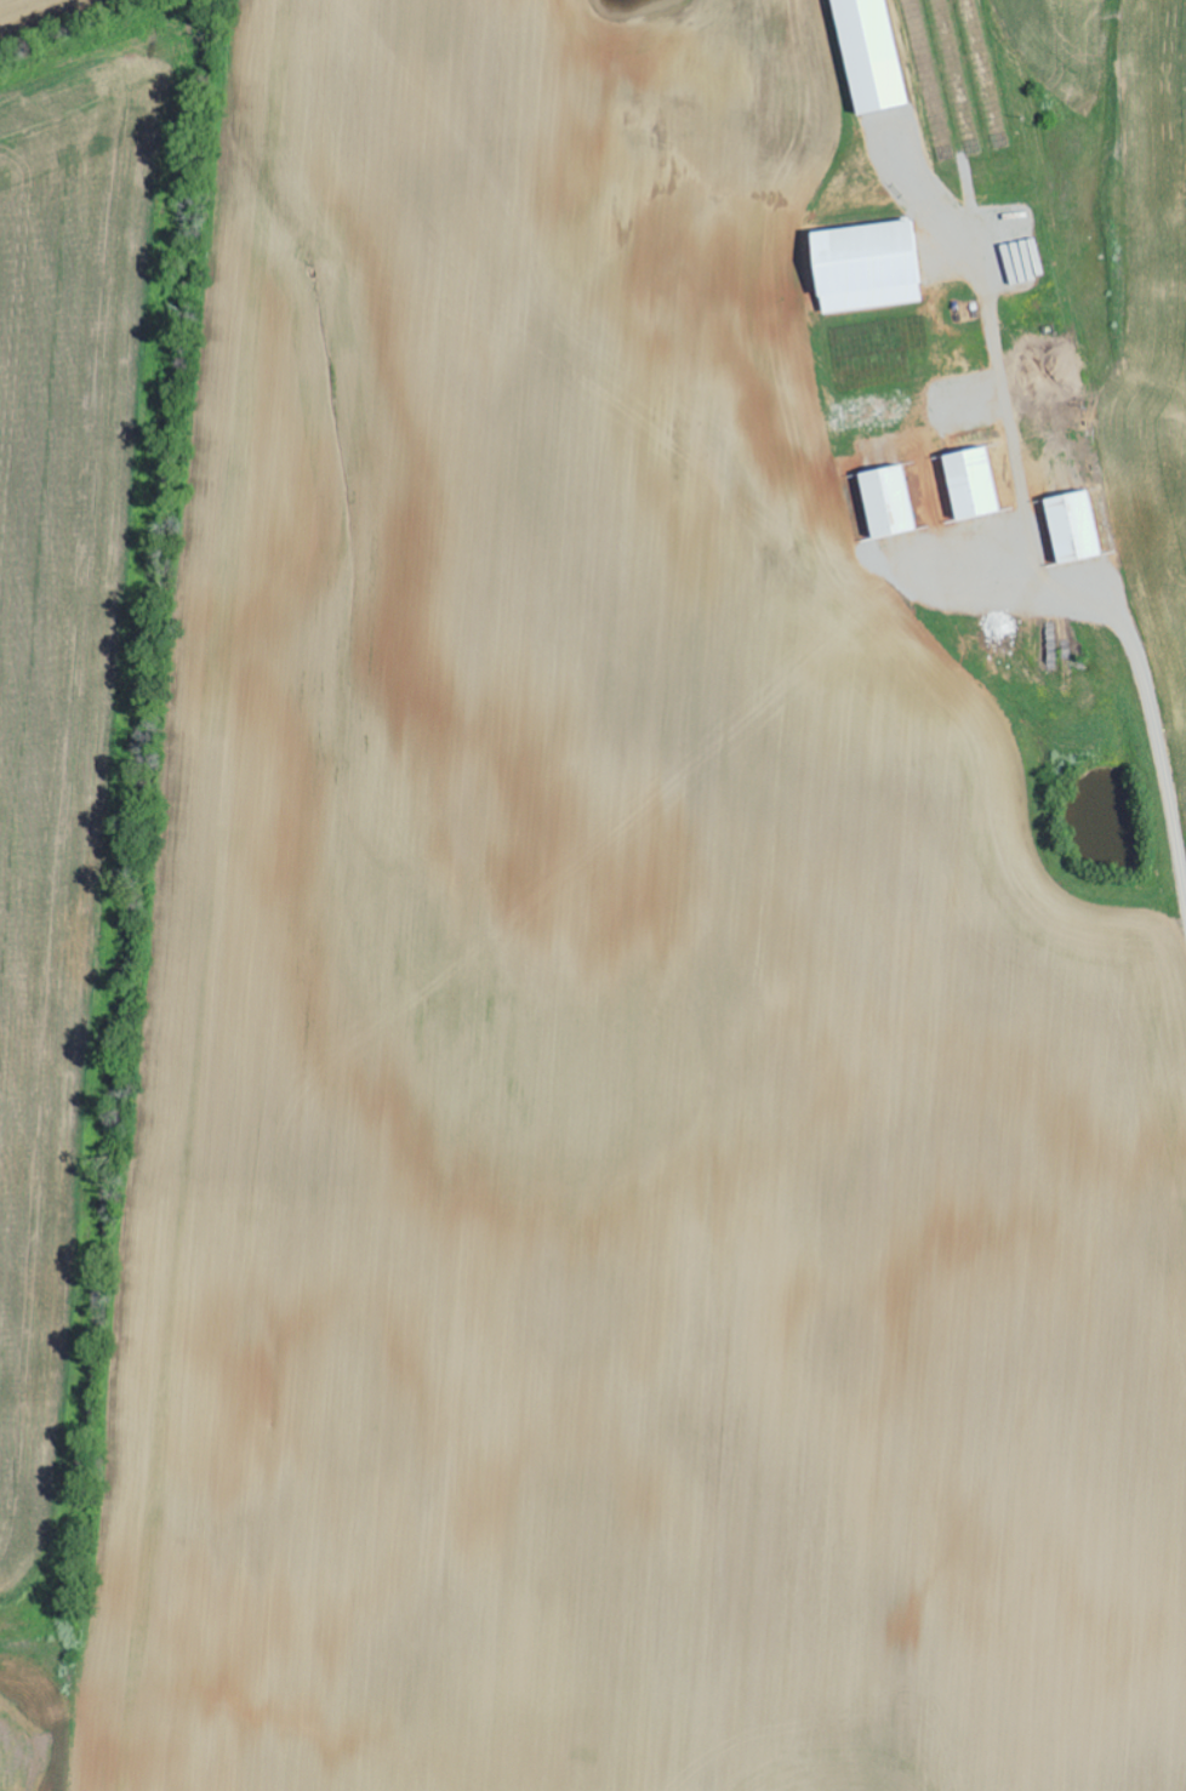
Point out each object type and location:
building: (868, 56)
building: (865, 269)
building: (886, 504)
building: (1072, 530)

